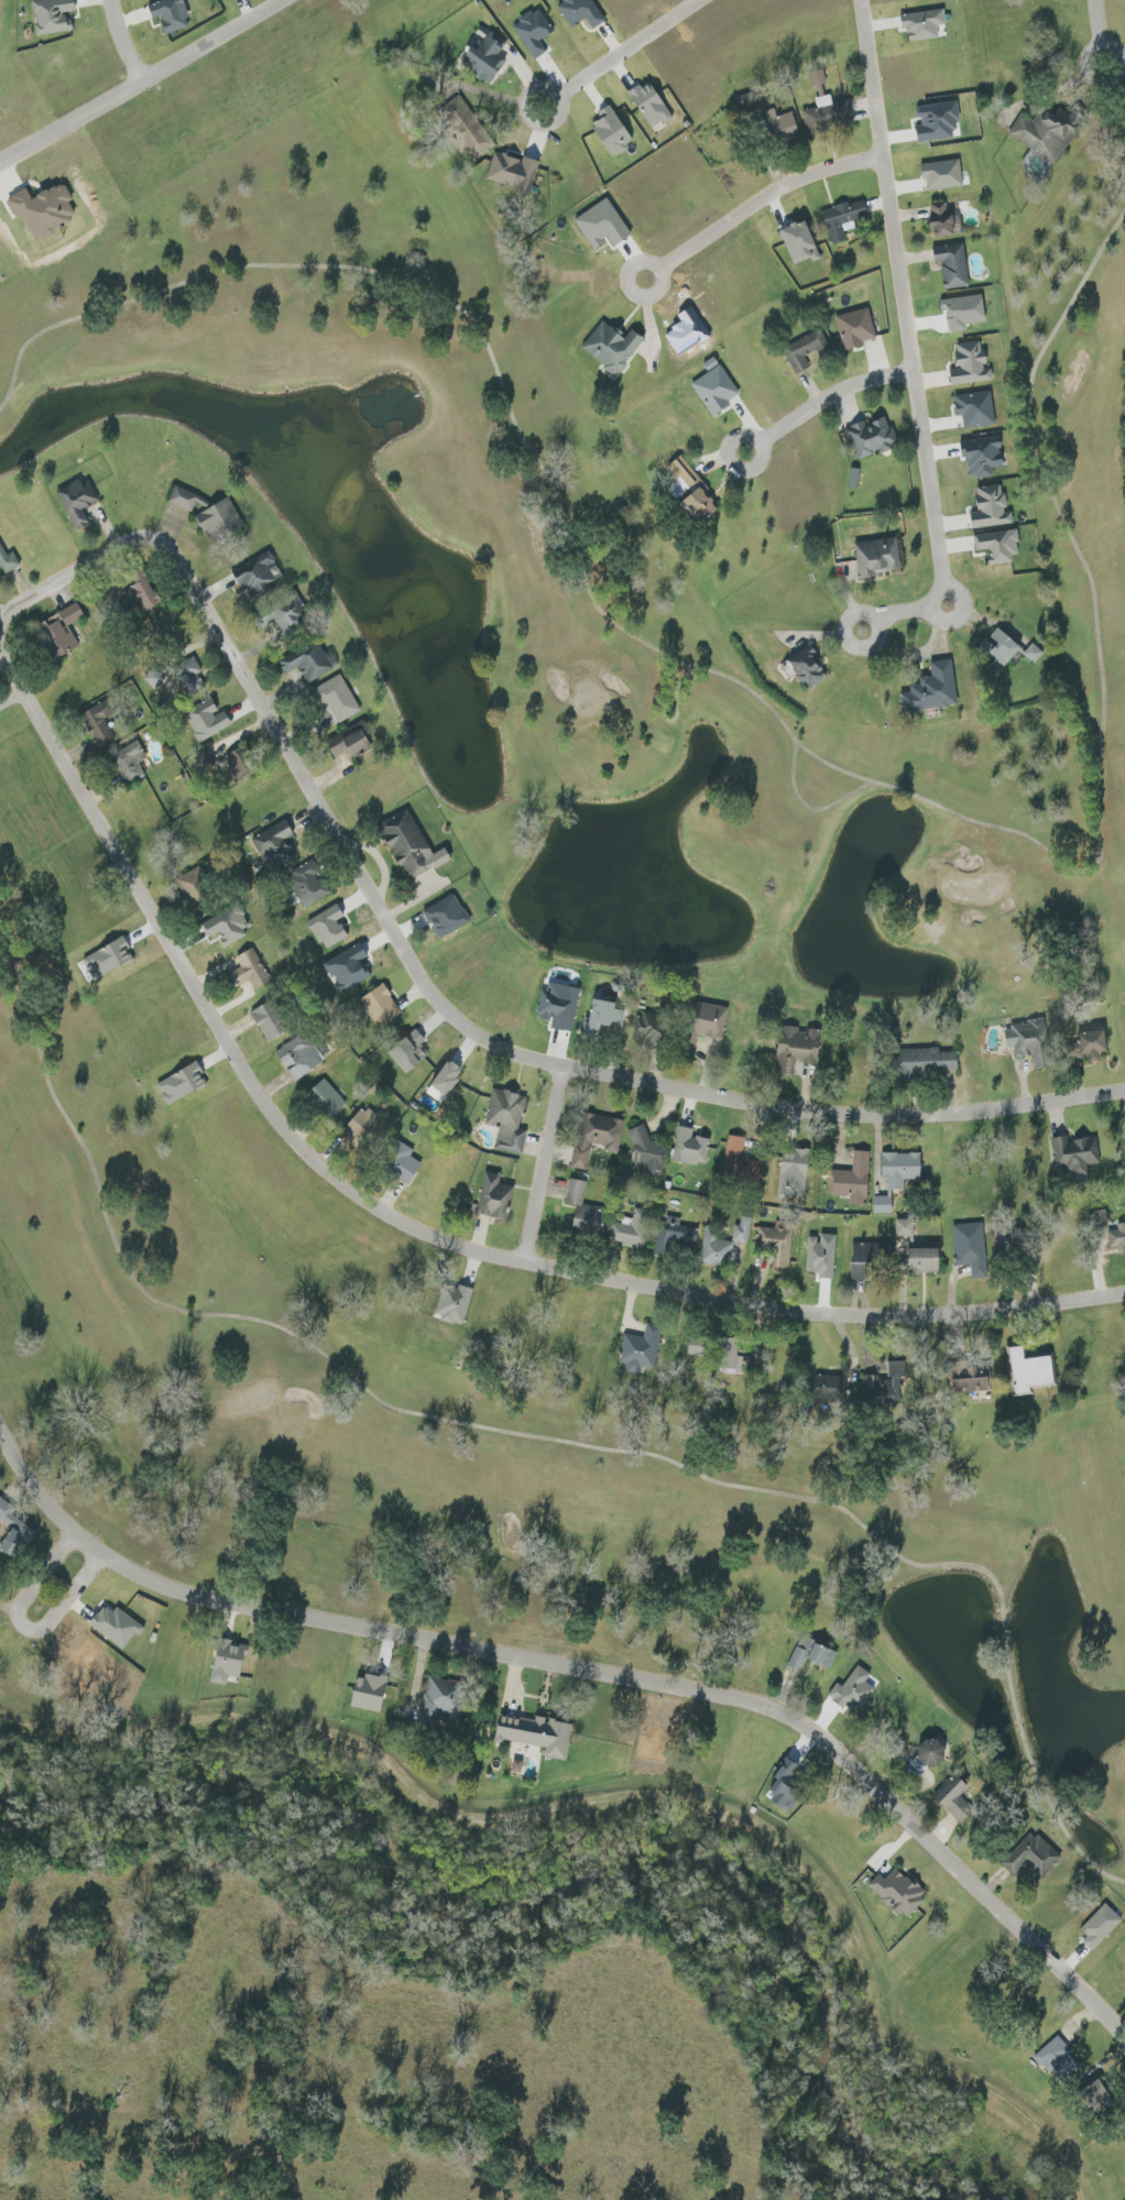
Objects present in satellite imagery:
building: (582, 12)
building: (172, 14)
building: (53, 15)
road: (1101, 20)
building: (924, 24)
building: (534, 33)
road: (127, 43)
road: (636, 46)
building: (487, 57)
road: (144, 86)
building: (745, 103)
building: (651, 105)
building: (828, 114)
building: (938, 122)
building: (467, 127)
building: (785, 128)
building: (612, 131)
building: (1048, 132)
building: (513, 172)
building: (942, 174)
road: (774, 198)
building: (44, 210)
building: (843, 220)
building: (944, 221)
building: (602, 226)
building: (801, 242)
building: (952, 265)
road: (904, 280)
building: (855, 329)
building: (612, 348)
building: (806, 351)
building: (971, 364)
building: (716, 391)
road: (839, 395)
building: (975, 409)
building: (871, 438)
building: (983, 457)
building: (853, 478)
building: (696, 494)
building: (183, 500)
building: (77, 501)
building: (991, 508)
building: (220, 521)
building: (998, 547)
building: (877, 557)
building: (8, 561)
building: (259, 576)
road: (922, 606)
building: (70, 615)
building: (291, 616)
building: (62, 637)
building: (1000, 648)
building: (1033, 654)
building: (310, 663)
building: (808, 668)
building: (190, 676)
building: (152, 678)
building: (932, 692)
building: (336, 699)
building: (207, 721)
building: (100, 723)
building: (351, 742)
building: (205, 763)
building: (130, 764)
building: (237, 765)
building: (274, 845)
building: (413, 847)
building: (195, 883)
building: (312, 888)
building: (447, 916)
building: (229, 923)
building: (329, 927)
building: (109, 959)
building: (349, 965)
building: (249, 970)
park: (555, 984)
road: (437, 999)
building: (381, 1005)
building: (559, 1005)
building: (602, 1017)
building: (270, 1020)
building: (712, 1021)
building: (651, 1027)
building: (1028, 1041)
building: (1095, 1044)
building: (798, 1048)
building: (408, 1052)
building: (299, 1057)
building: (929, 1061)
building: (445, 1081)
building: (182, 1083)
building: (327, 1098)
building: (507, 1119)
building: (362, 1127)
building: (597, 1137)
building: (690, 1147)
building: (646, 1148)
building: (1075, 1154)
building: (405, 1163)
road: (543, 1164)
building: (900, 1169)
building: (853, 1179)
building: (495, 1196)
building: (882, 1205)
building: (585, 1208)
road: (400, 1221)
building: (742, 1228)
building: (634, 1230)
building: (1115, 1236)
building: (675, 1238)
building: (777, 1243)
building: (1007, 1243)
building: (970, 1248)
building: (918, 1249)
building: (716, 1251)
building: (865, 1257)
building: (454, 1304)
building: (698, 1347)
building: (641, 1349)
building: (1031, 1370)
building: (885, 1382)
building: (973, 1382)
building: (831, 1387)
building: (14, 1531)
road: (21, 1621)
building: (118, 1623)
building: (811, 1654)
building: (228, 1663)
road: (587, 1667)
building: (370, 1694)
building: (443, 1700)
building: (537, 1734)
building: (932, 1751)
building: (788, 1785)
building: (954, 1799)
building: (1034, 1857)
river: (577, 1871)
building: (899, 1892)
building: (1100, 1927)
building: (1058, 2060)

